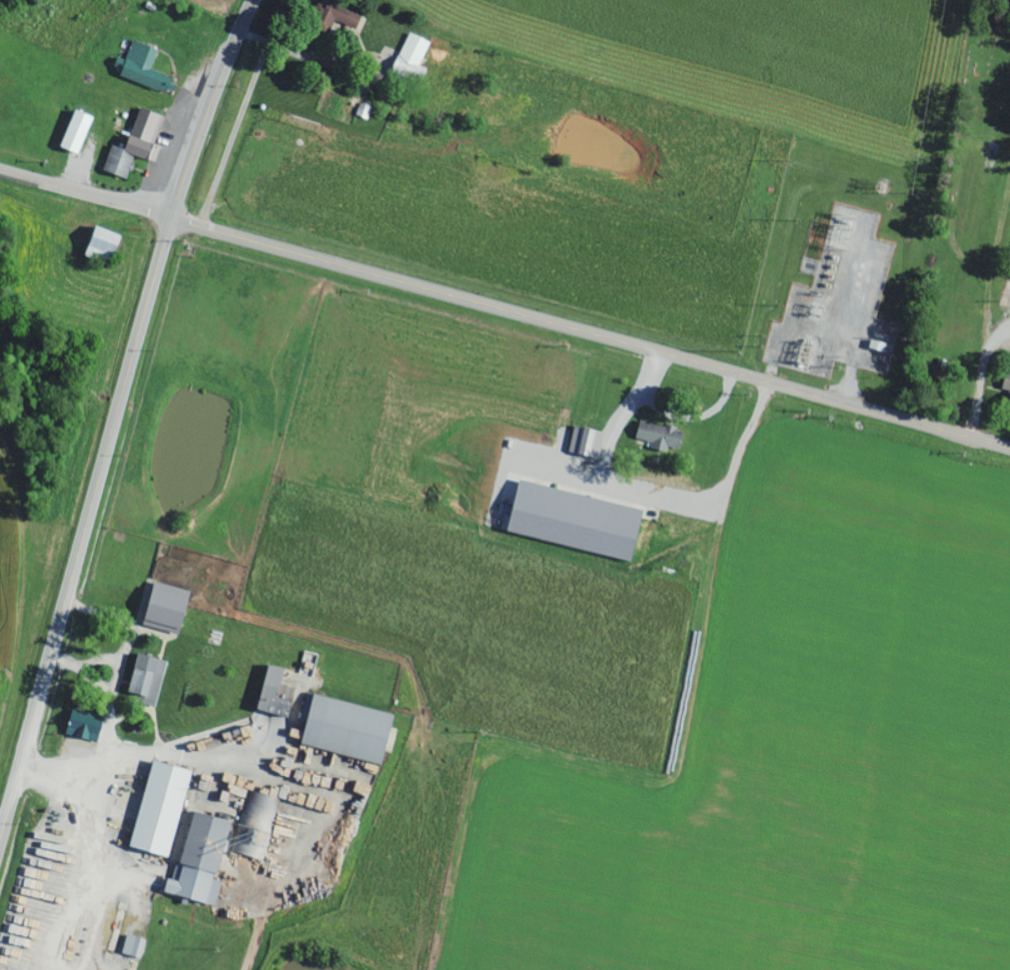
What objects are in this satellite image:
building: (336, 15)
building: (410, 59)
building: (143, 68)
building: (363, 111)
building: (74, 133)
building: (135, 145)
building: (99, 246)
road: (504, 309)
building: (1006, 383)
road: (116, 417)
building: (564, 423)
building: (659, 437)
building: (587, 444)
building: (562, 446)
building: (572, 522)
building: (164, 608)
building: (146, 679)
building: (273, 693)
building: (82, 725)
building: (345, 729)
building: (234, 784)
building: (158, 808)
building: (257, 826)
building: (198, 860)
building: (132, 946)

